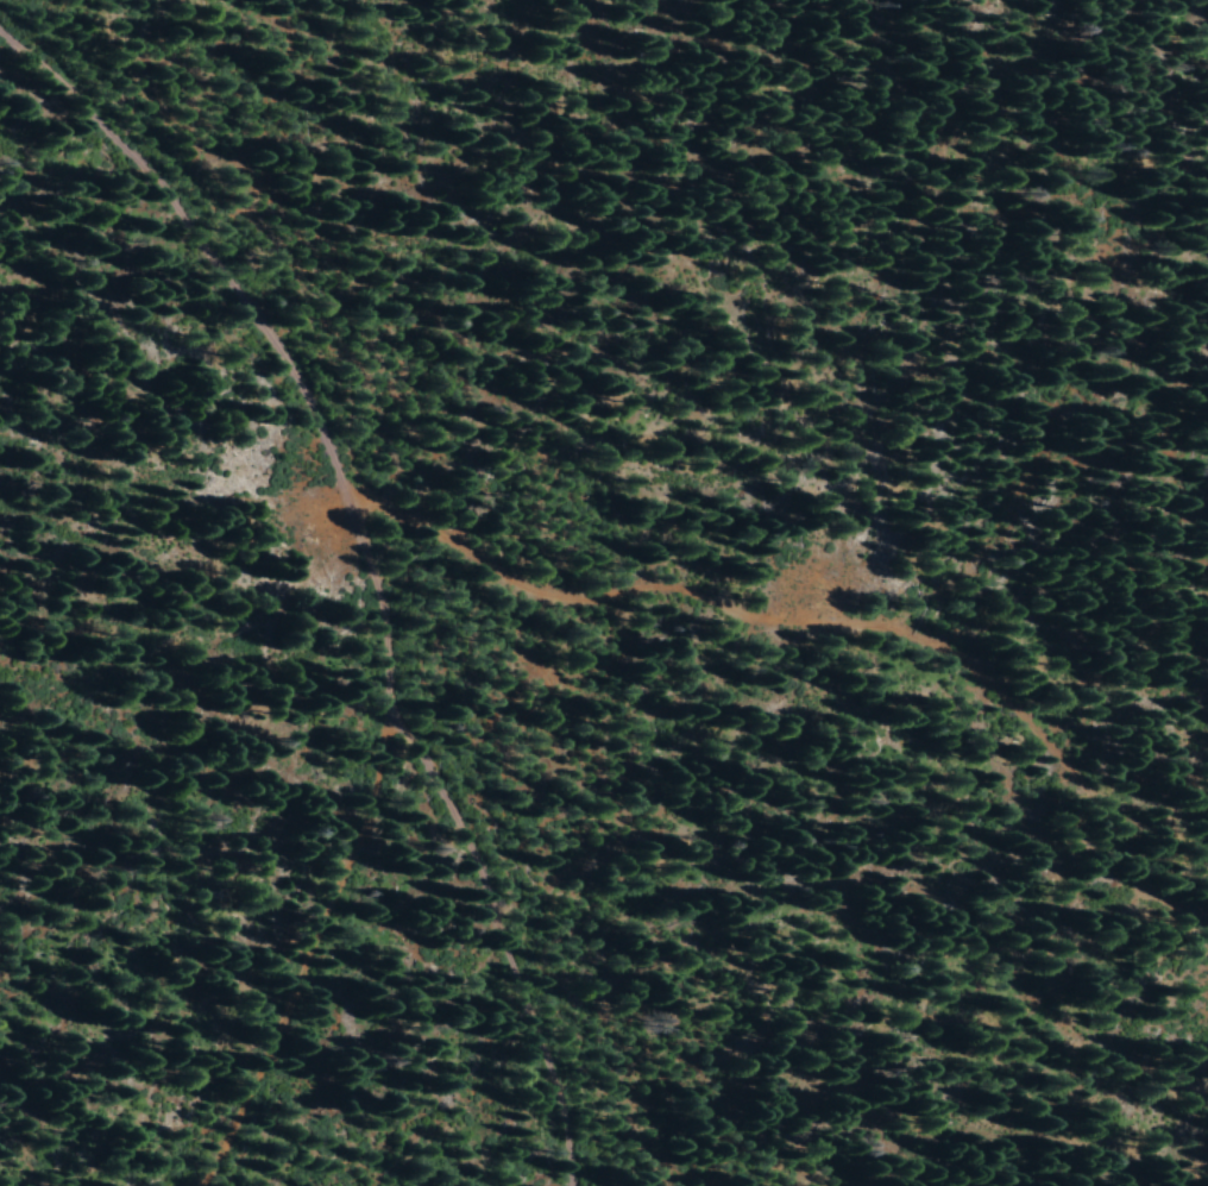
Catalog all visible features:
road: (315, 346)
road: (414, 790)

